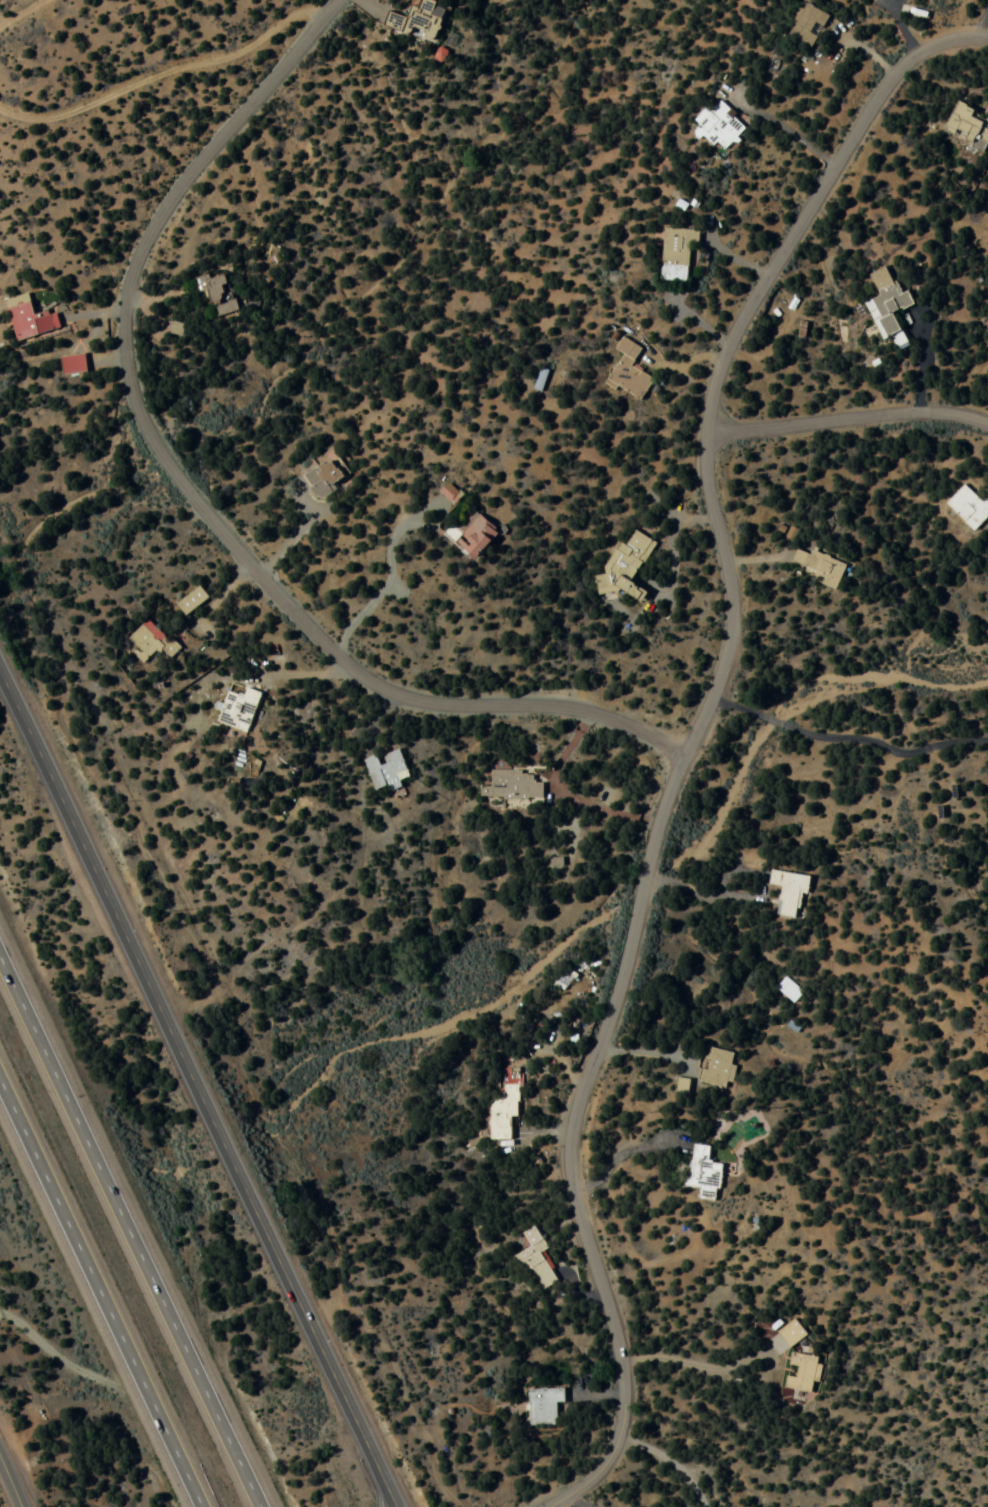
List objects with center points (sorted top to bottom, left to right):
road: (14, 10)
building: (425, 18)
road: (900, 23)
building: (807, 25)
road: (167, 76)
building: (968, 126)
building: (720, 129)
road: (810, 199)
building: (676, 253)
building: (217, 292)
building: (889, 306)
building: (36, 312)
building: (76, 357)
building: (628, 373)
road: (848, 421)
building: (324, 478)
building: (450, 493)
road: (191, 496)
building: (969, 508)
building: (474, 535)
road: (287, 540)
building: (819, 566)
building: (627, 567)
road: (388, 578)
road: (726, 597)
building: (192, 601)
building: (150, 642)
building: (238, 710)
road: (742, 713)
building: (387, 771)
building: (512, 786)
building: (788, 895)
road: (289, 920)
building: (789, 990)
building: (717, 1068)
road: (196, 1092)
building: (504, 1109)
road: (569, 1140)
building: (703, 1170)
road: (123, 1237)
building: (536, 1260)
road: (105, 1287)
building: (5, 1301)
building: (790, 1334)
road: (73, 1361)
building: (801, 1373)
building: (543, 1406)
road: (9, 1482)
road: (597, 1497)

